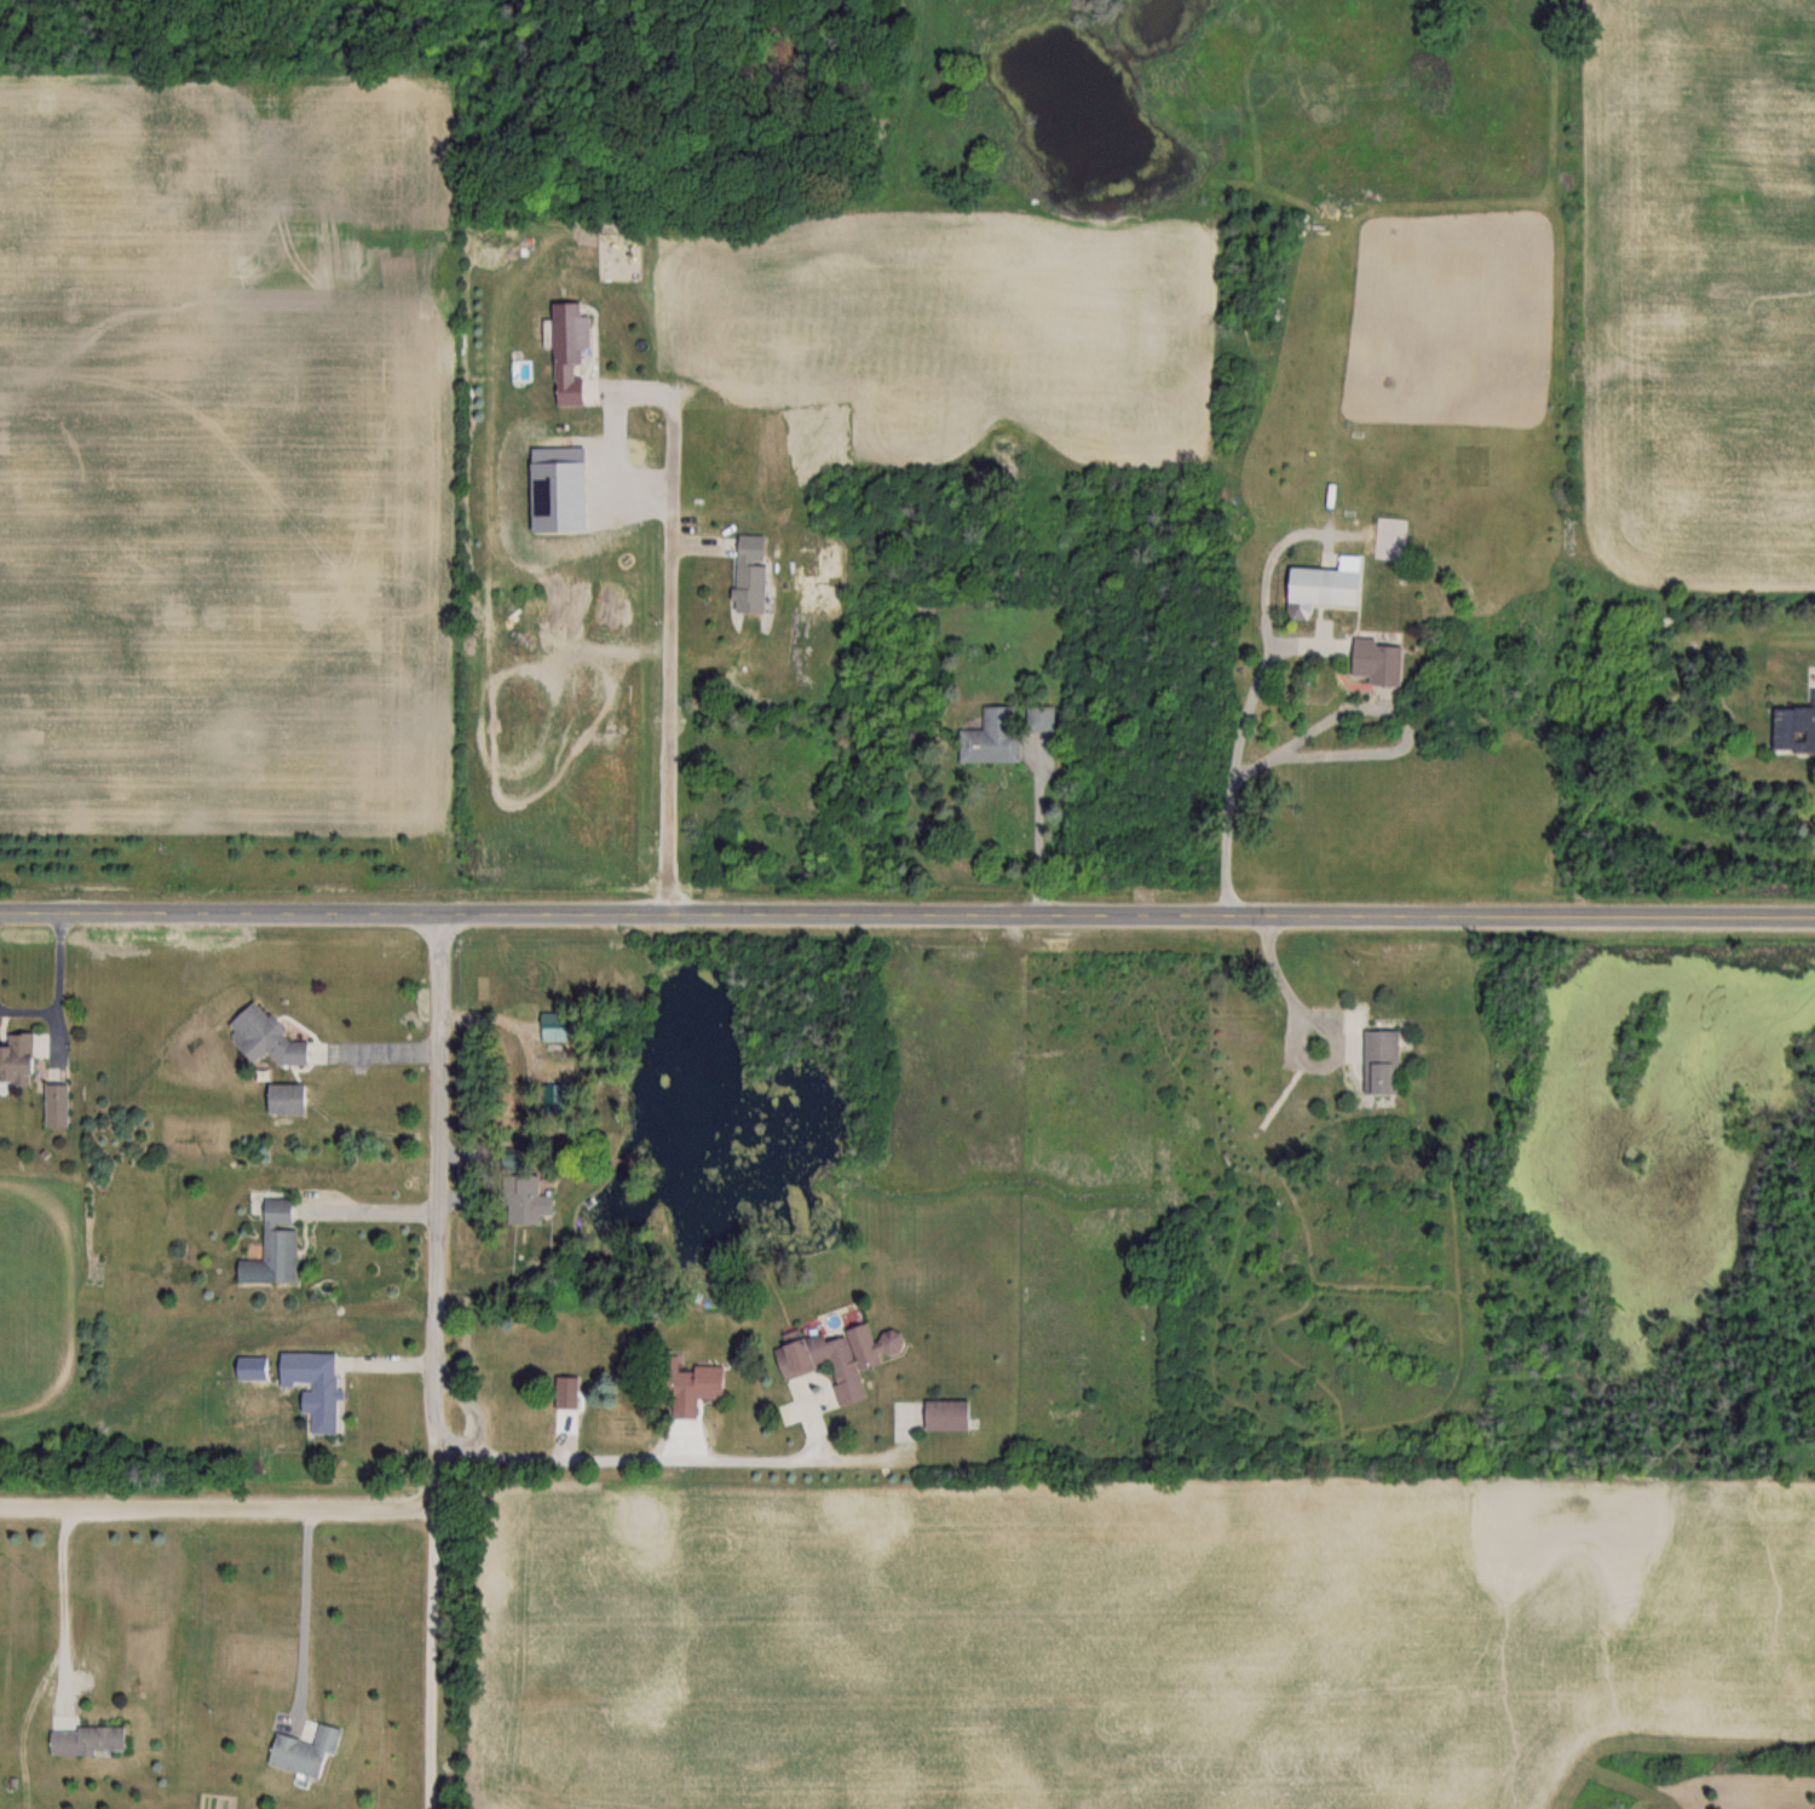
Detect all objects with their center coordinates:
building: (565, 330)
building: (566, 390)
building: (1319, 583)
building: (748, 588)
road: (673, 621)
building: (1370, 662)
building: (1039, 718)
building: (1792, 727)
building: (991, 737)
road: (1399, 739)
road: (1238, 766)
road: (1041, 835)
road: (907, 914)
road: (1272, 981)
road: (51, 984)
building: (549, 1020)
building: (263, 1036)
road: (376, 1036)
building: (15, 1058)
building: (1378, 1062)
building: (281, 1098)
building: (52, 1105)
road: (443, 1182)
building: (522, 1199)
road: (379, 1211)
building: (271, 1246)
building: (836, 1356)
building: (687, 1388)
building: (321, 1392)
building: (564, 1393)
building: (944, 1413)
road: (656, 1458)
road: (236, 1506)
road: (67, 1605)
road: (306, 1611)
road: (431, 1653)
building: (86, 1740)
building: (302, 1750)

